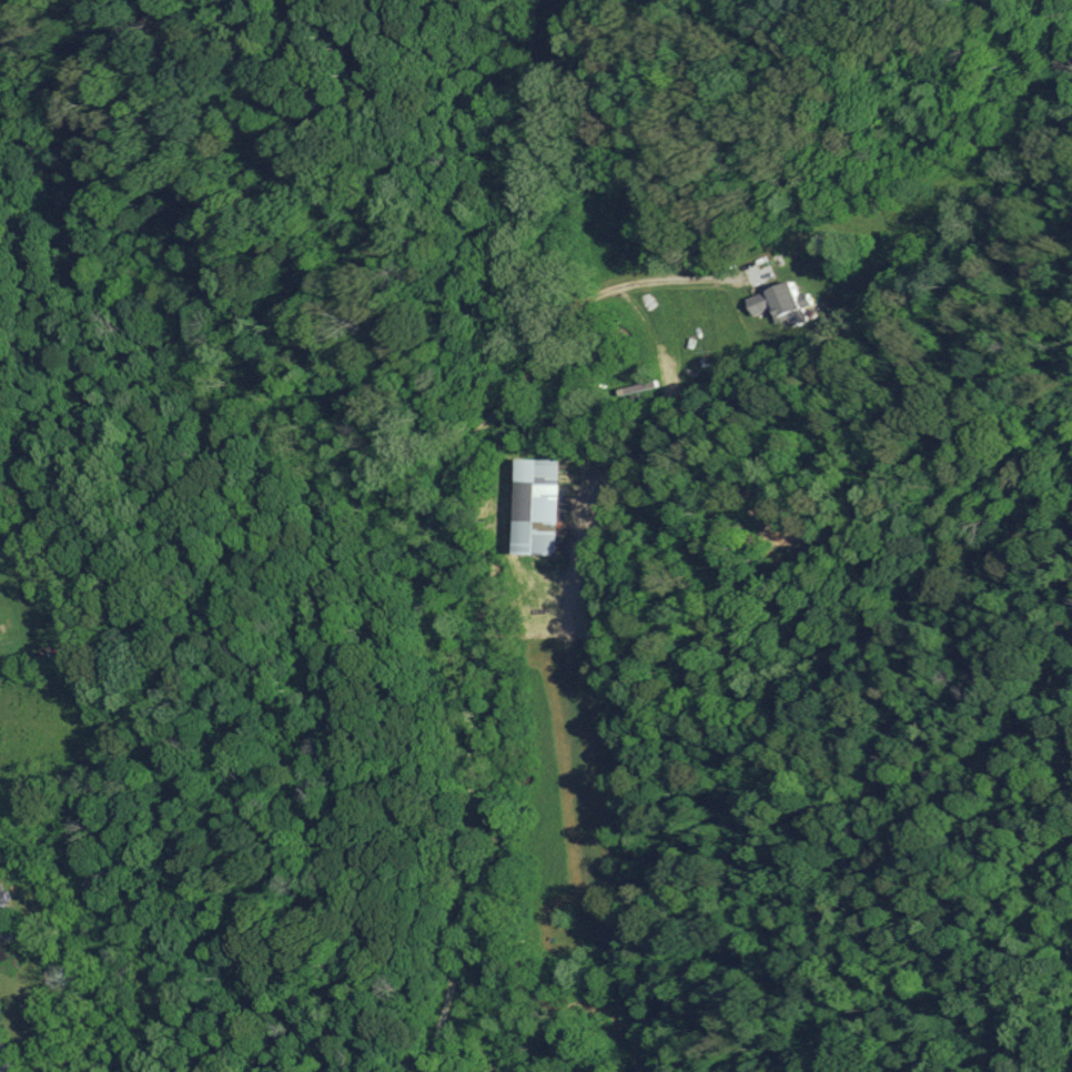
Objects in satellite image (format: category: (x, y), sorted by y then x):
building: (779, 303)
building: (547, 506)
road: (433, 587)
building: (7, 902)
road: (3, 1063)

